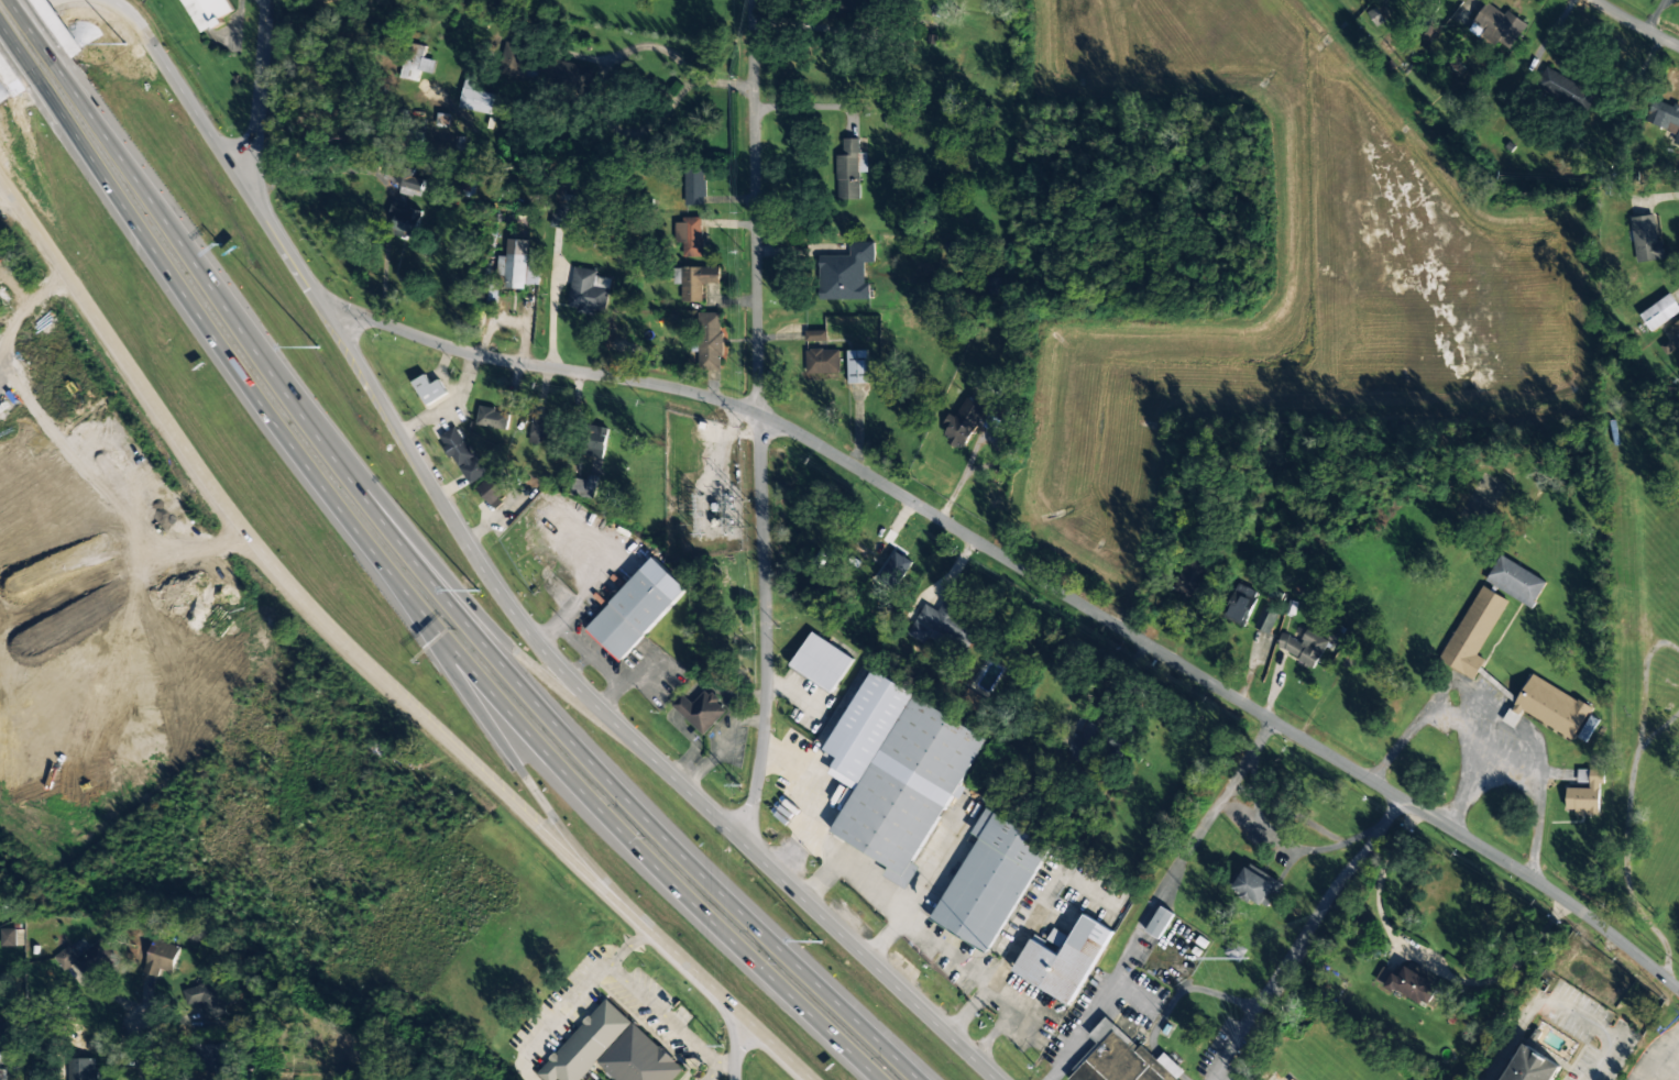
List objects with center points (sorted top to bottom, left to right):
road: (118, 4)
building: (847, 9)
building: (206, 11)
road: (22, 13)
building: (1375, 16)
road: (1636, 22)
building: (1497, 24)
road: (32, 29)
road: (17, 52)
building: (513, 59)
building: (414, 62)
building: (567, 75)
building: (1567, 89)
road: (254, 96)
building: (475, 96)
road: (186, 100)
building: (1665, 117)
building: (847, 172)
building: (402, 178)
building: (693, 187)
building: (561, 210)
building: (404, 221)
building: (689, 235)
building: (1645, 238)
road: (279, 246)
building: (519, 269)
building: (845, 273)
building: (696, 282)
building: (586, 291)
building: (490, 293)
road: (327, 317)
building: (1653, 318)
building: (1676, 328)
building: (815, 335)
building: (709, 341)
building: (822, 361)
building: (856, 366)
building: (429, 389)
road: (160, 415)
building: (492, 418)
road: (757, 422)
building: (962, 423)
road: (396, 429)
building: (546, 429)
building: (592, 441)
building: (461, 455)
building: (495, 486)
building: (584, 486)
power substation: (700, 487)
road: (459, 536)
building: (1221, 537)
road: (1030, 571)
building: (1194, 580)
building: (1516, 581)
road: (490, 582)
road: (443, 603)
building: (1240, 604)
building: (637, 608)
road: (417, 610)
park: (723, 616)
building: (1265, 618)
building: (942, 625)
building: (1473, 631)
building: (1302, 647)
road: (514, 651)
building: (821, 662)
building: (1549, 706)
building: (700, 710)
building: (1085, 742)
road: (509, 753)
road: (470, 762)
building: (909, 786)
building: (1584, 792)
road: (750, 852)
building: (990, 880)
building: (1255, 884)
building: (1160, 922)
building: (10, 936)
road: (628, 946)
building: (1234, 951)
building: (161, 958)
building: (1063, 958)
building: (87, 959)
road: (709, 983)
building: (1411, 985)
building: (208, 999)
parking lot: (649, 1005)
road: (561, 1013)
road: (666, 1021)
building: (1, 1031)
road: (732, 1042)
building: (584, 1045)
road: (144, 1050)
road: (1656, 1055)
building: (638, 1059)
building: (1121, 1059)
building: (206, 1061)
parking lot: (1656, 1062)
building: (1534, 1066)
building: (81, 1069)
road: (522, 1070)
road: (711, 1072)
building: (2, 1075)

